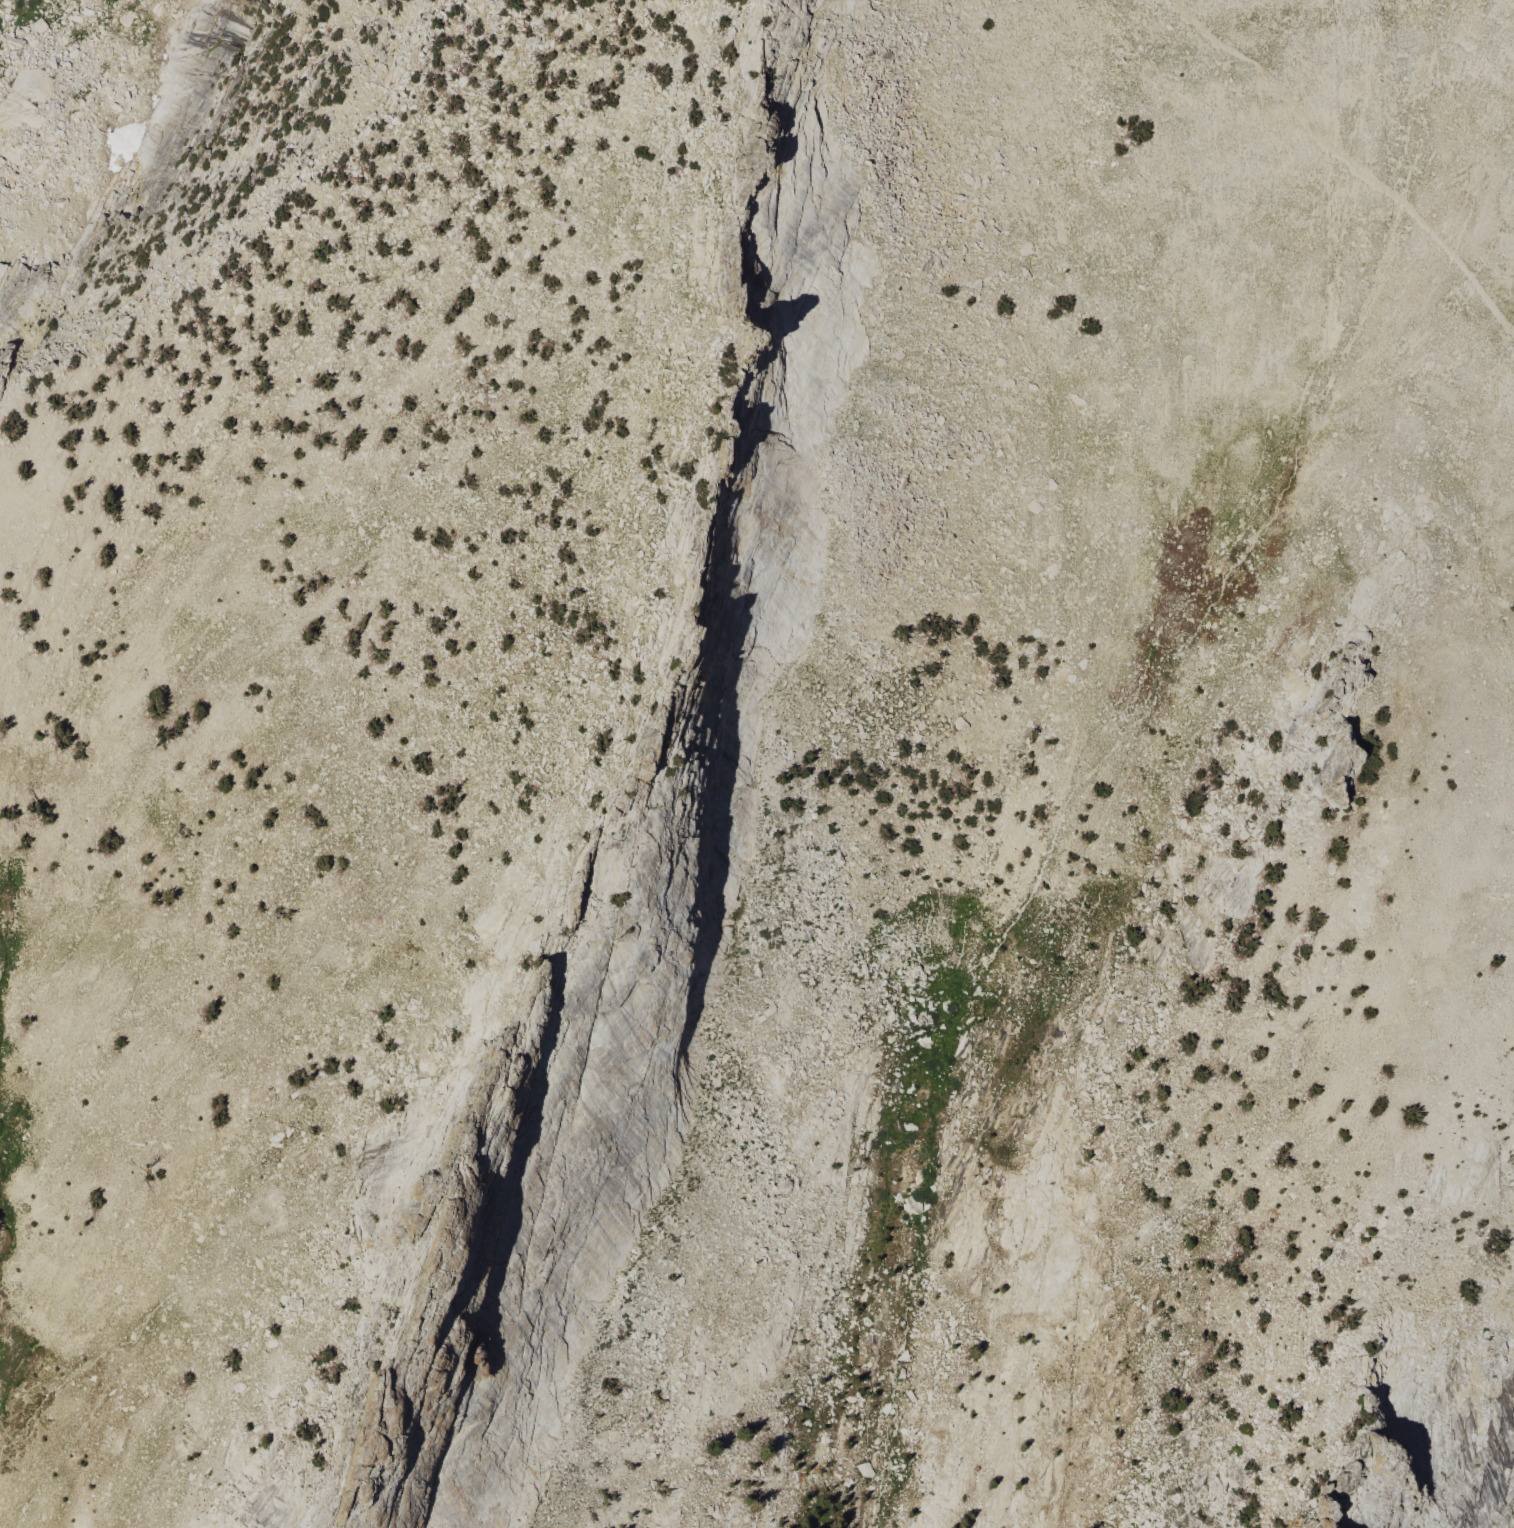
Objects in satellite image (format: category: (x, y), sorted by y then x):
road: (1347, 160)

